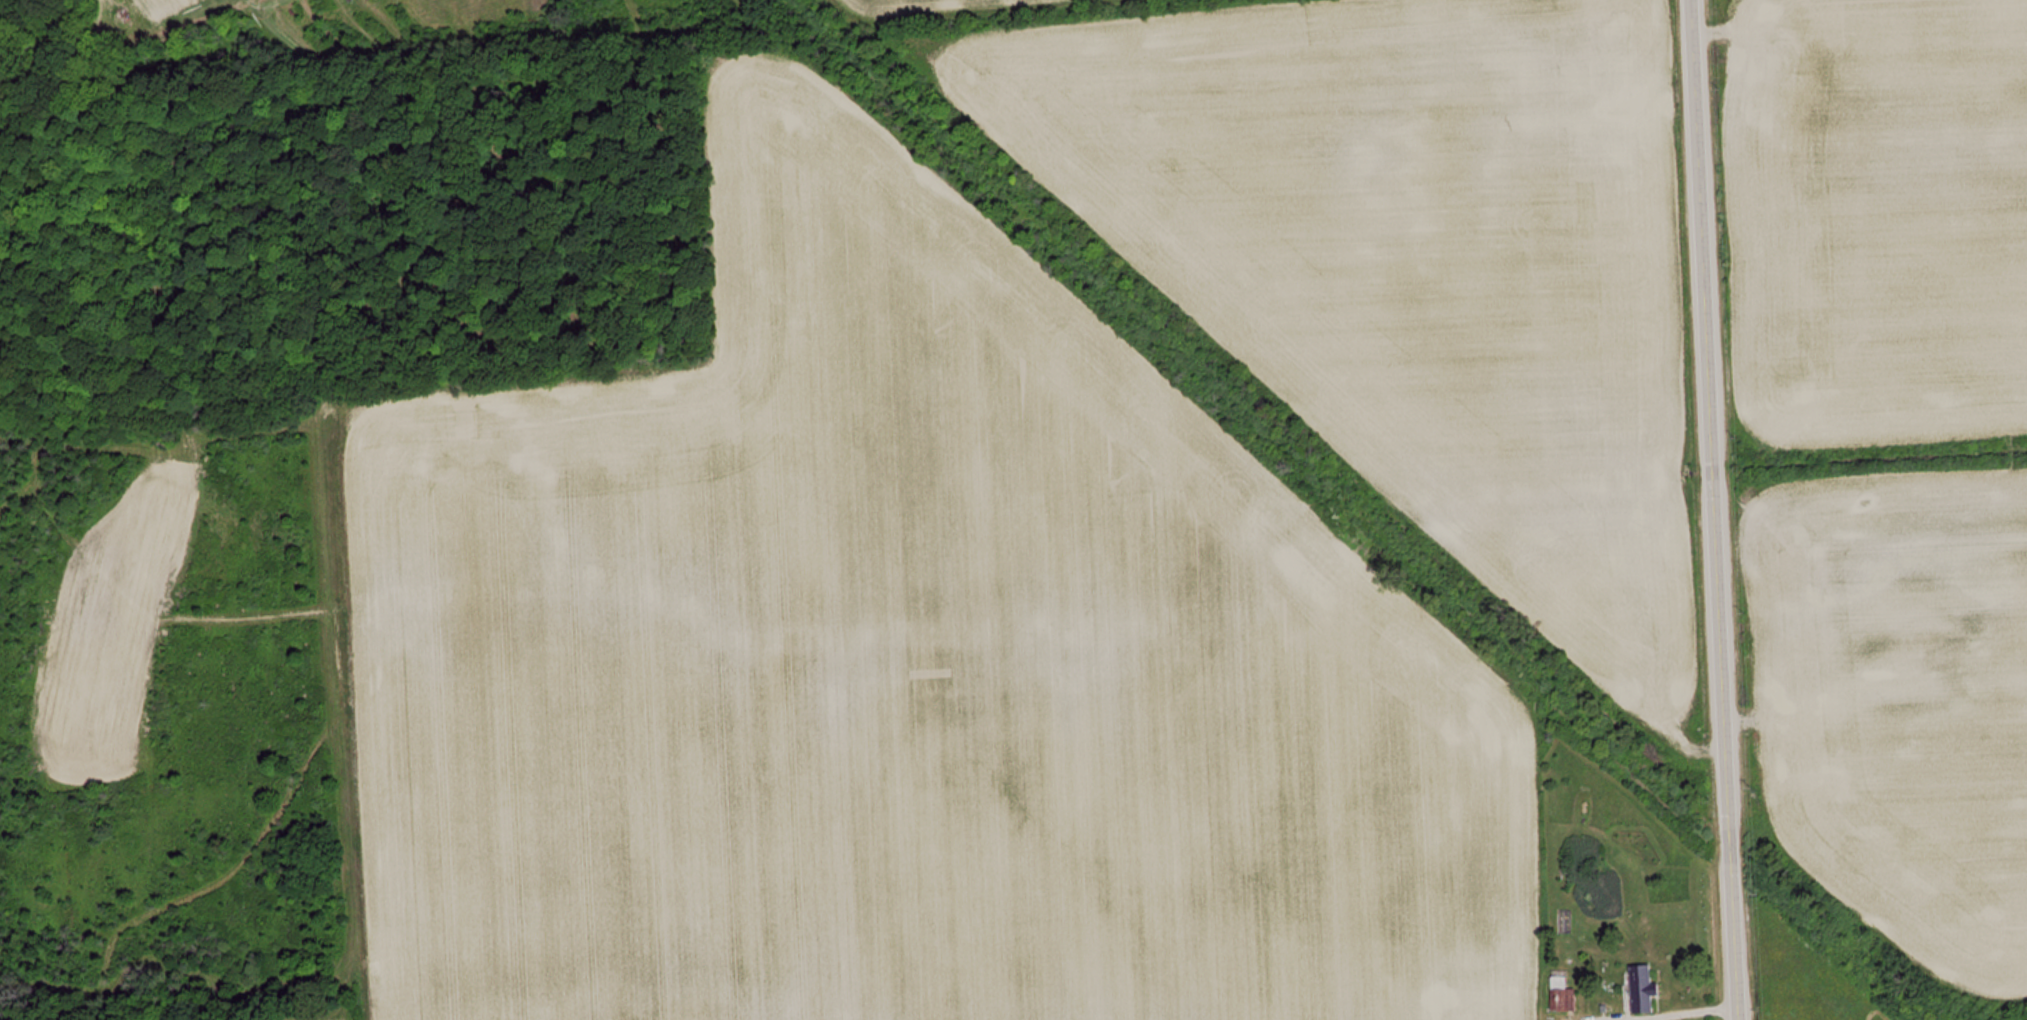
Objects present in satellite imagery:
road: (1714, 509)
building: (1640, 990)
building: (1561, 996)

